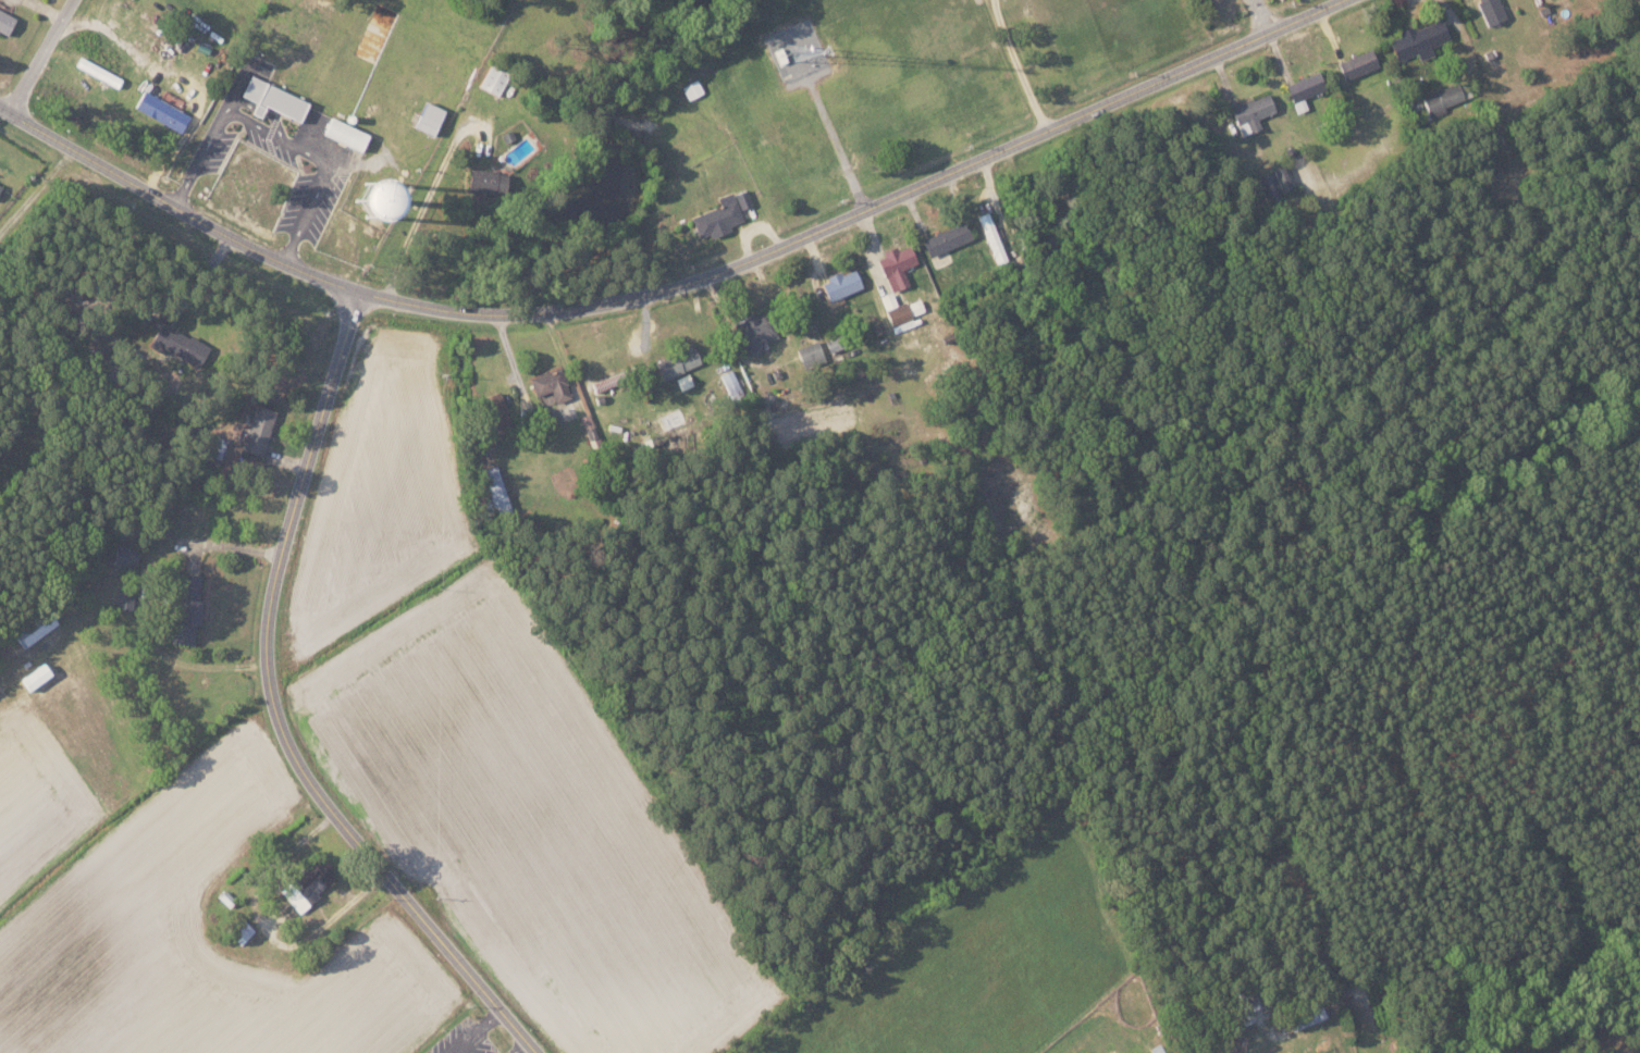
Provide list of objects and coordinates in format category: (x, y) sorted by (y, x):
building: (1491, 10)
road: (1258, 16)
building: (5, 23)
park: (1628, 35)
building: (1419, 39)
road: (45, 54)
building: (1357, 63)
road: (1020, 64)
building: (494, 78)
road: (244, 79)
building: (1304, 88)
building: (694, 90)
building: (273, 99)
building: (1443, 99)
road: (264, 111)
building: (162, 112)
building: (1251, 112)
building: (428, 119)
building: (345, 135)
building: (508, 136)
road: (206, 150)
road: (326, 161)
building: (488, 181)
building: (1274, 181)
building: (0, 182)
building: (0, 186)
road: (39, 189)
building: (742, 198)
building: (717, 216)
building: (946, 238)
building: (896, 265)
building: (840, 284)
road: (673, 287)
building: (900, 311)
building: (754, 331)
building: (834, 342)
building: (181, 347)
building: (809, 354)
building: (677, 361)
building: (493, 412)
building: (258, 430)
building: (214, 448)
building: (496, 490)
building: (126, 554)
building: (187, 585)
building: (124, 596)
building: (186, 609)
building: (34, 627)
building: (182, 631)
road: (279, 711)
building: (303, 893)
building: (227, 899)
building: (239, 931)
building: (1253, 1001)
building: (1243, 1011)
building: (1306, 1018)
road: (480, 1031)
road: (522, 1046)
building: (1157, 1049)
building: (1513, 1050)

